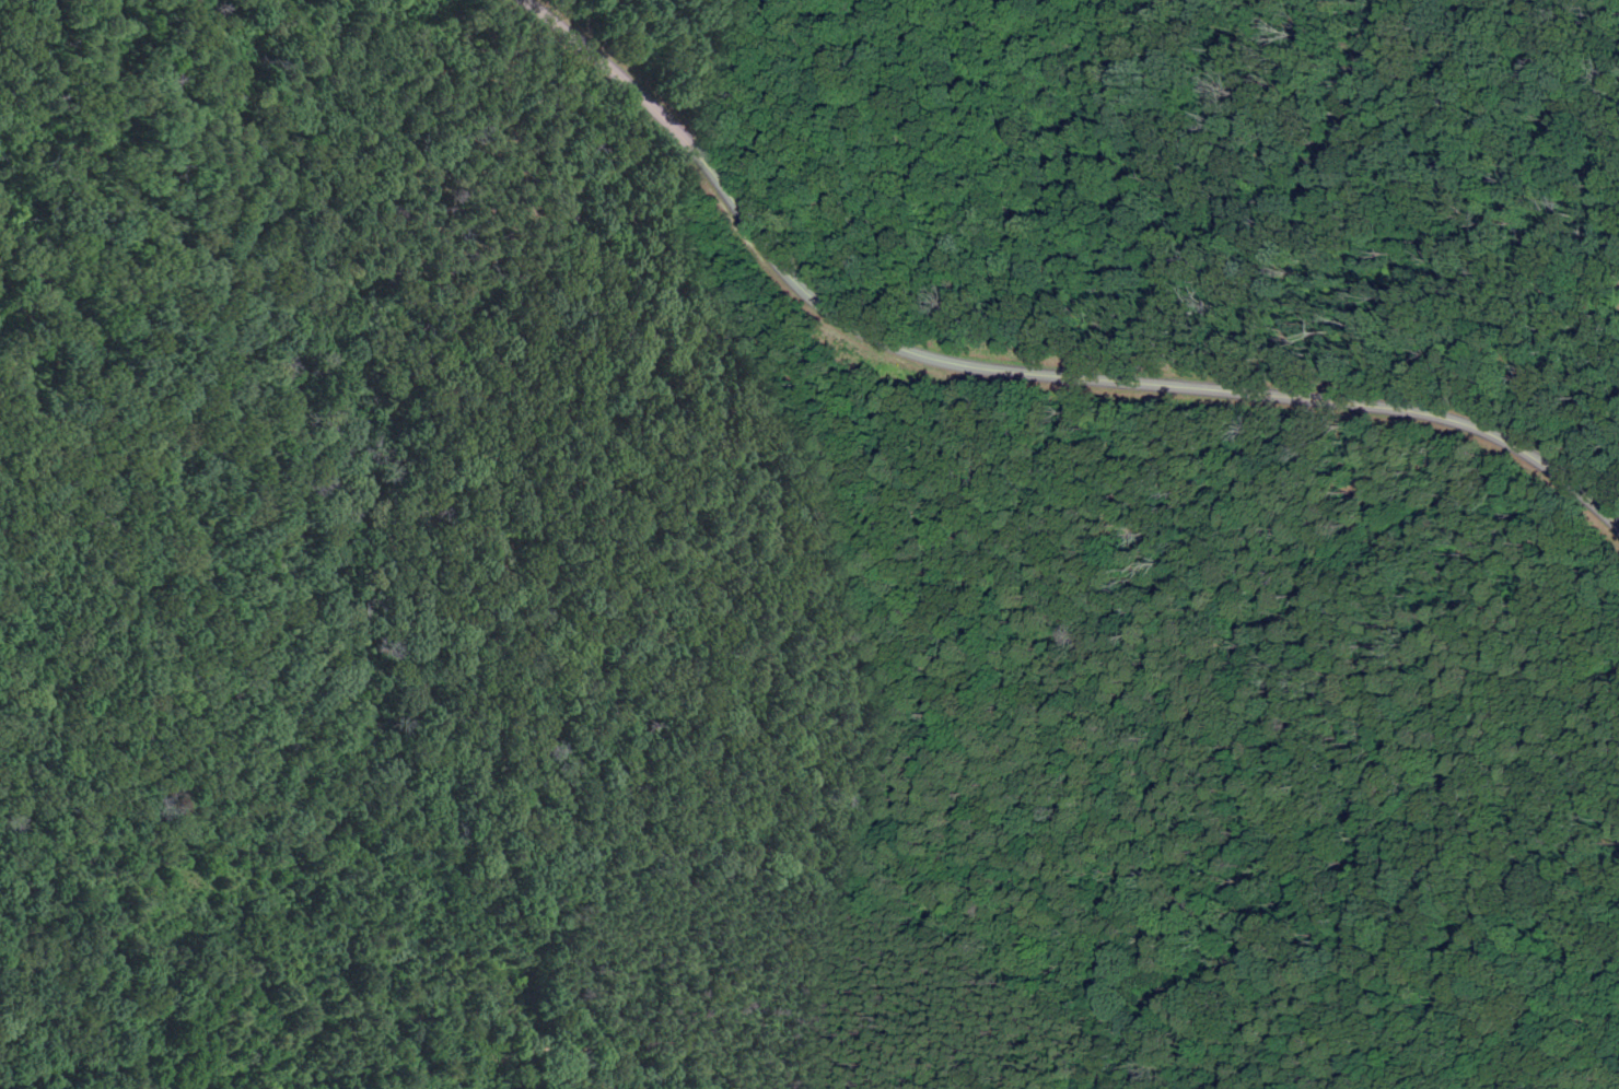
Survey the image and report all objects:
road: (1017, 368)
road: (1198, 584)

